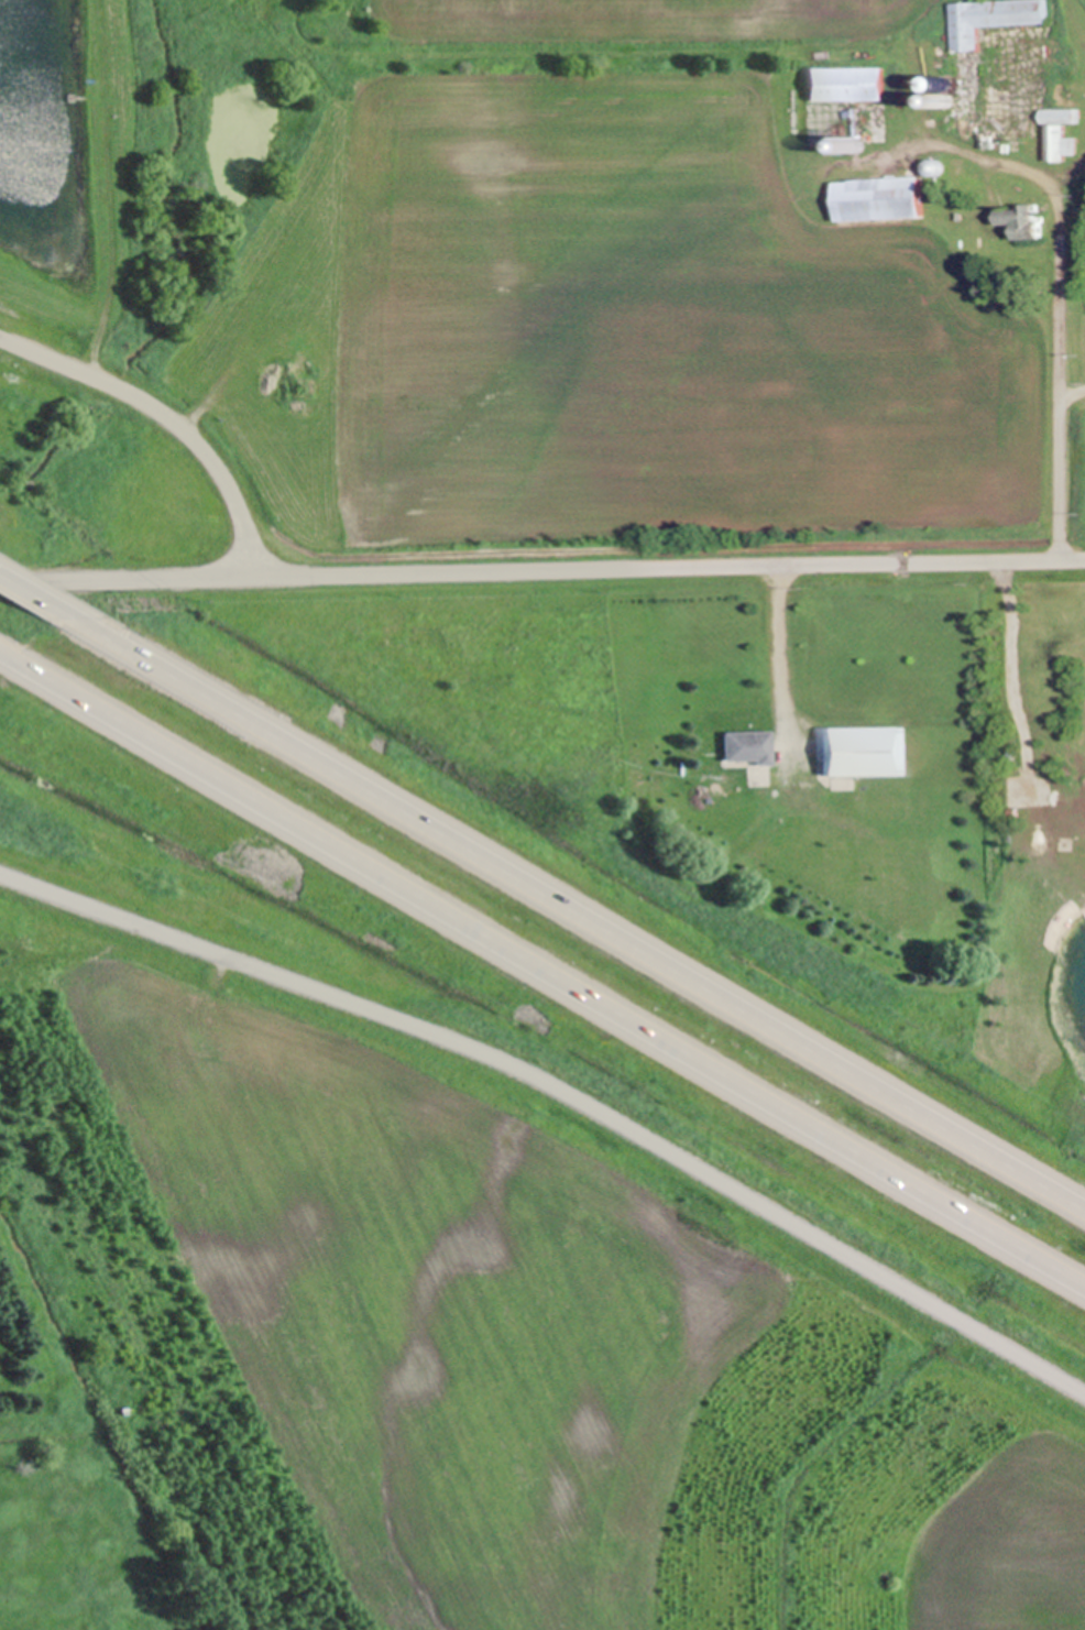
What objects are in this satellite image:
building: (982, 53)
building: (847, 84)
building: (1061, 110)
building: (883, 199)
building: (1026, 220)
road: (1050, 304)
road: (1068, 384)
road: (167, 422)
road: (542, 575)
road: (34, 594)
road: (776, 653)
building: (745, 746)
building: (862, 750)
building: (750, 770)
building: (842, 781)
road: (577, 912)
road: (542, 966)
road: (562, 1090)

